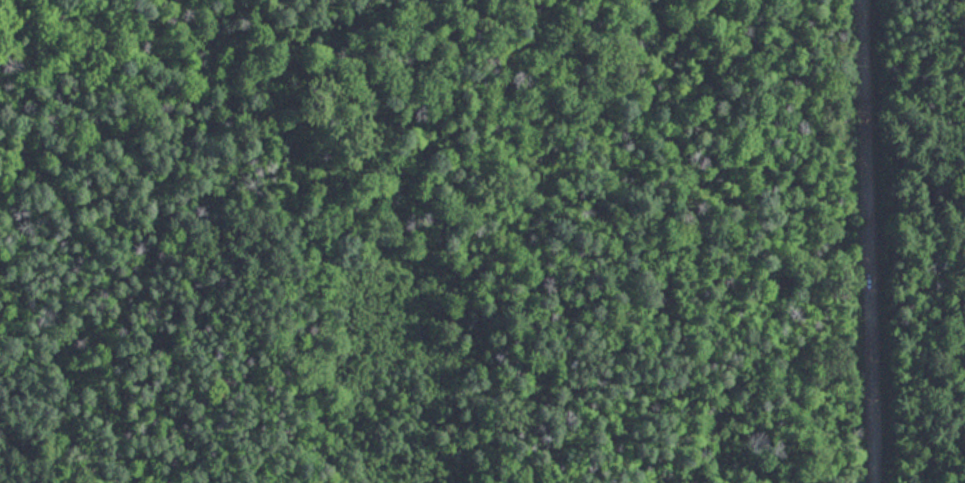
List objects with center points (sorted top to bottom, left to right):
park: (482, 241)
road: (863, 241)

